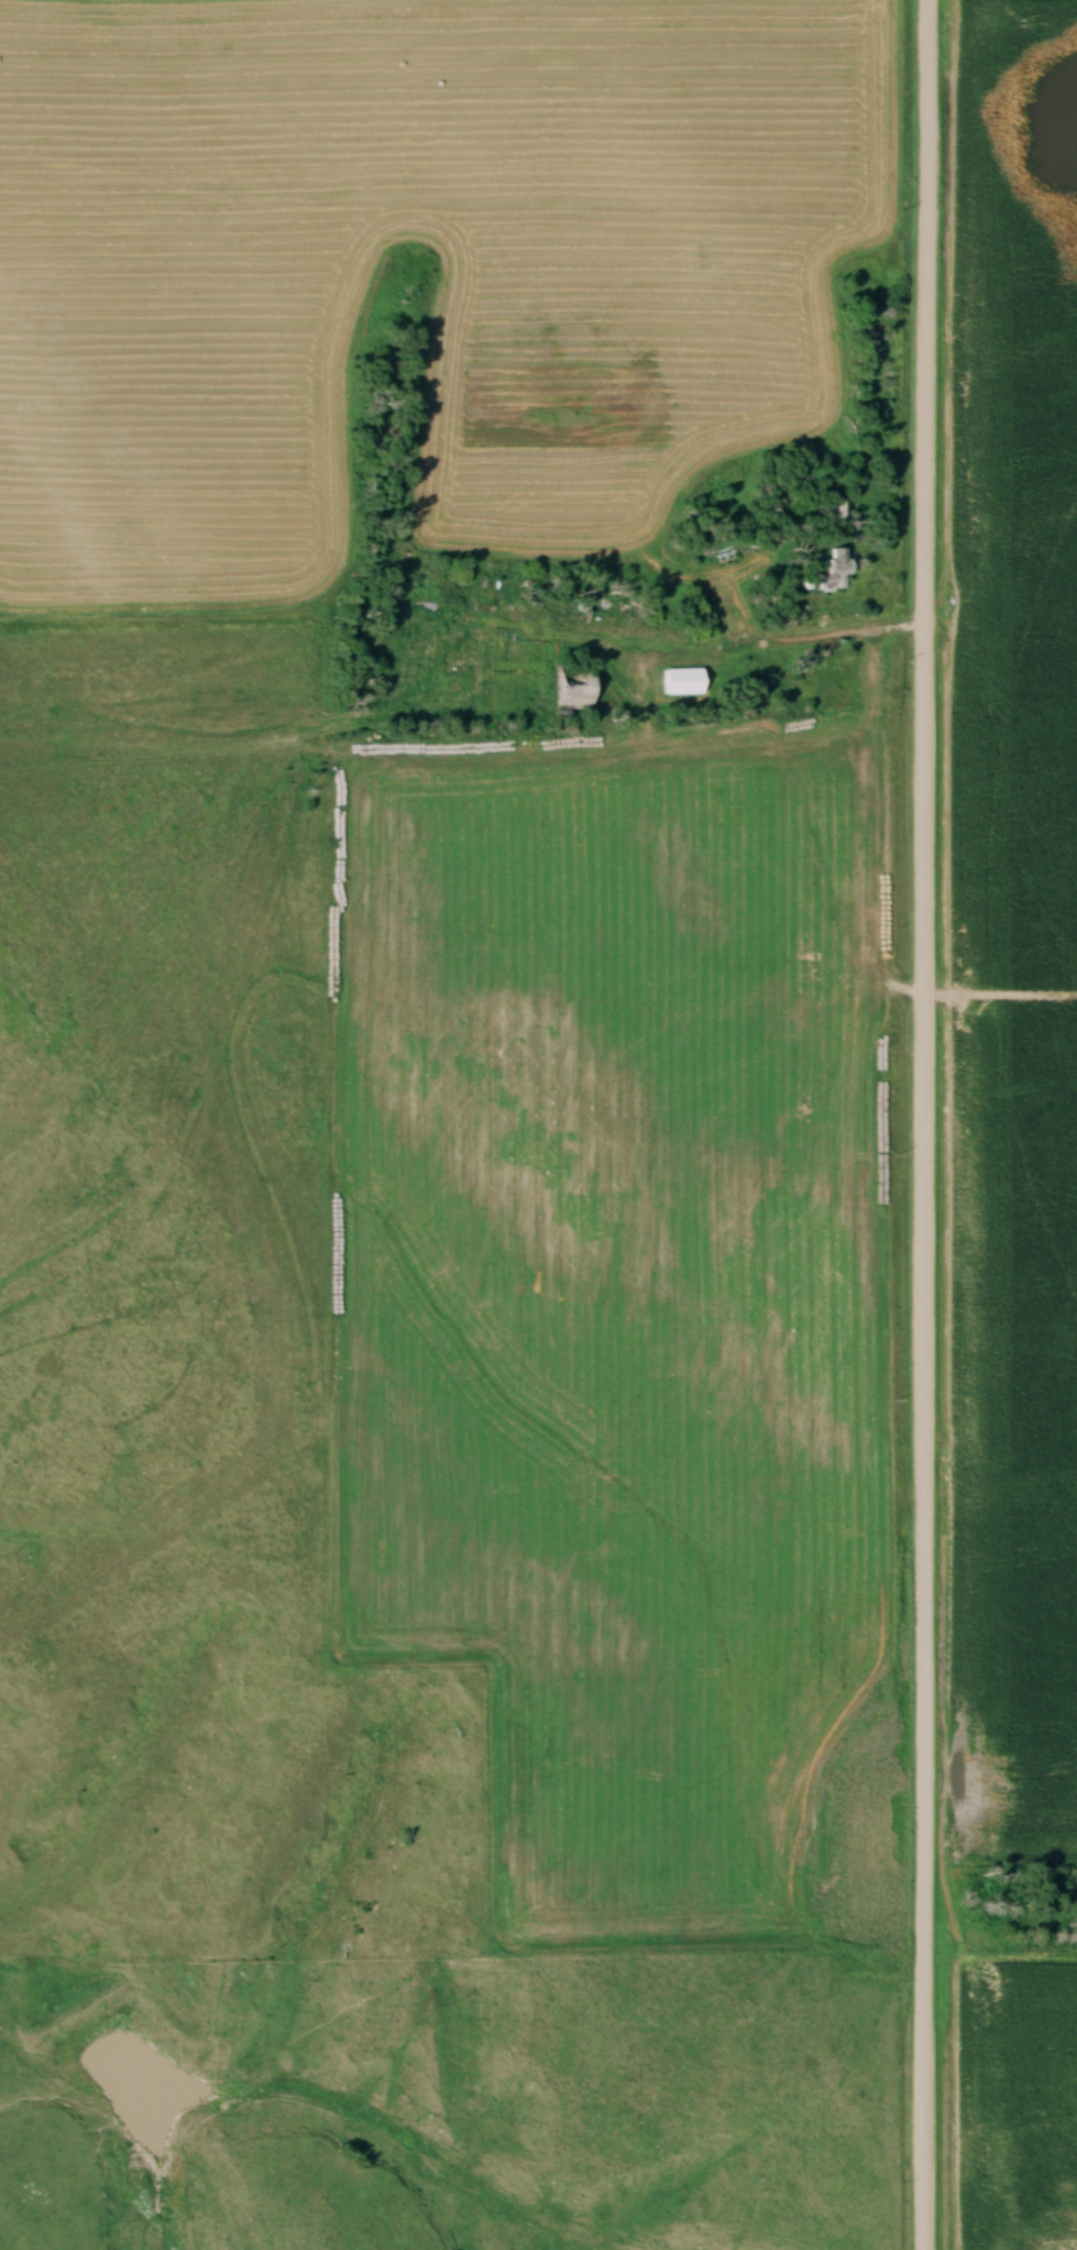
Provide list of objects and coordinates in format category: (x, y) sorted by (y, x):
building: (840, 569)
road: (787, 636)
building: (686, 682)
building: (581, 694)
road: (927, 1124)

